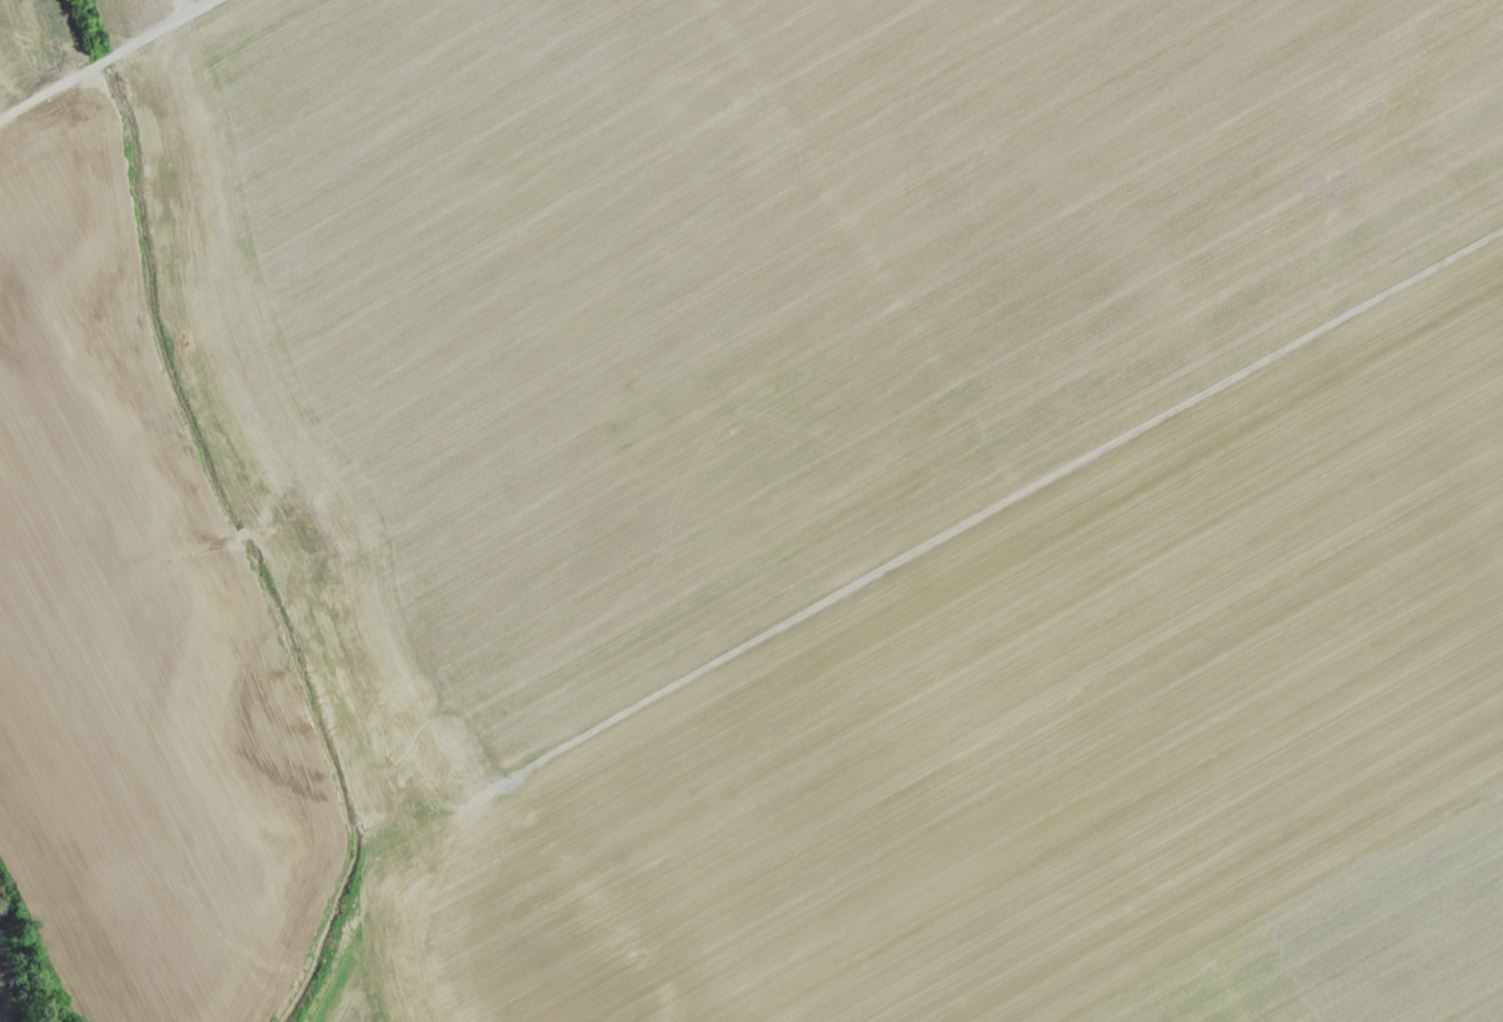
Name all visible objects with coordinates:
road: (155, 34)
road: (46, 94)

